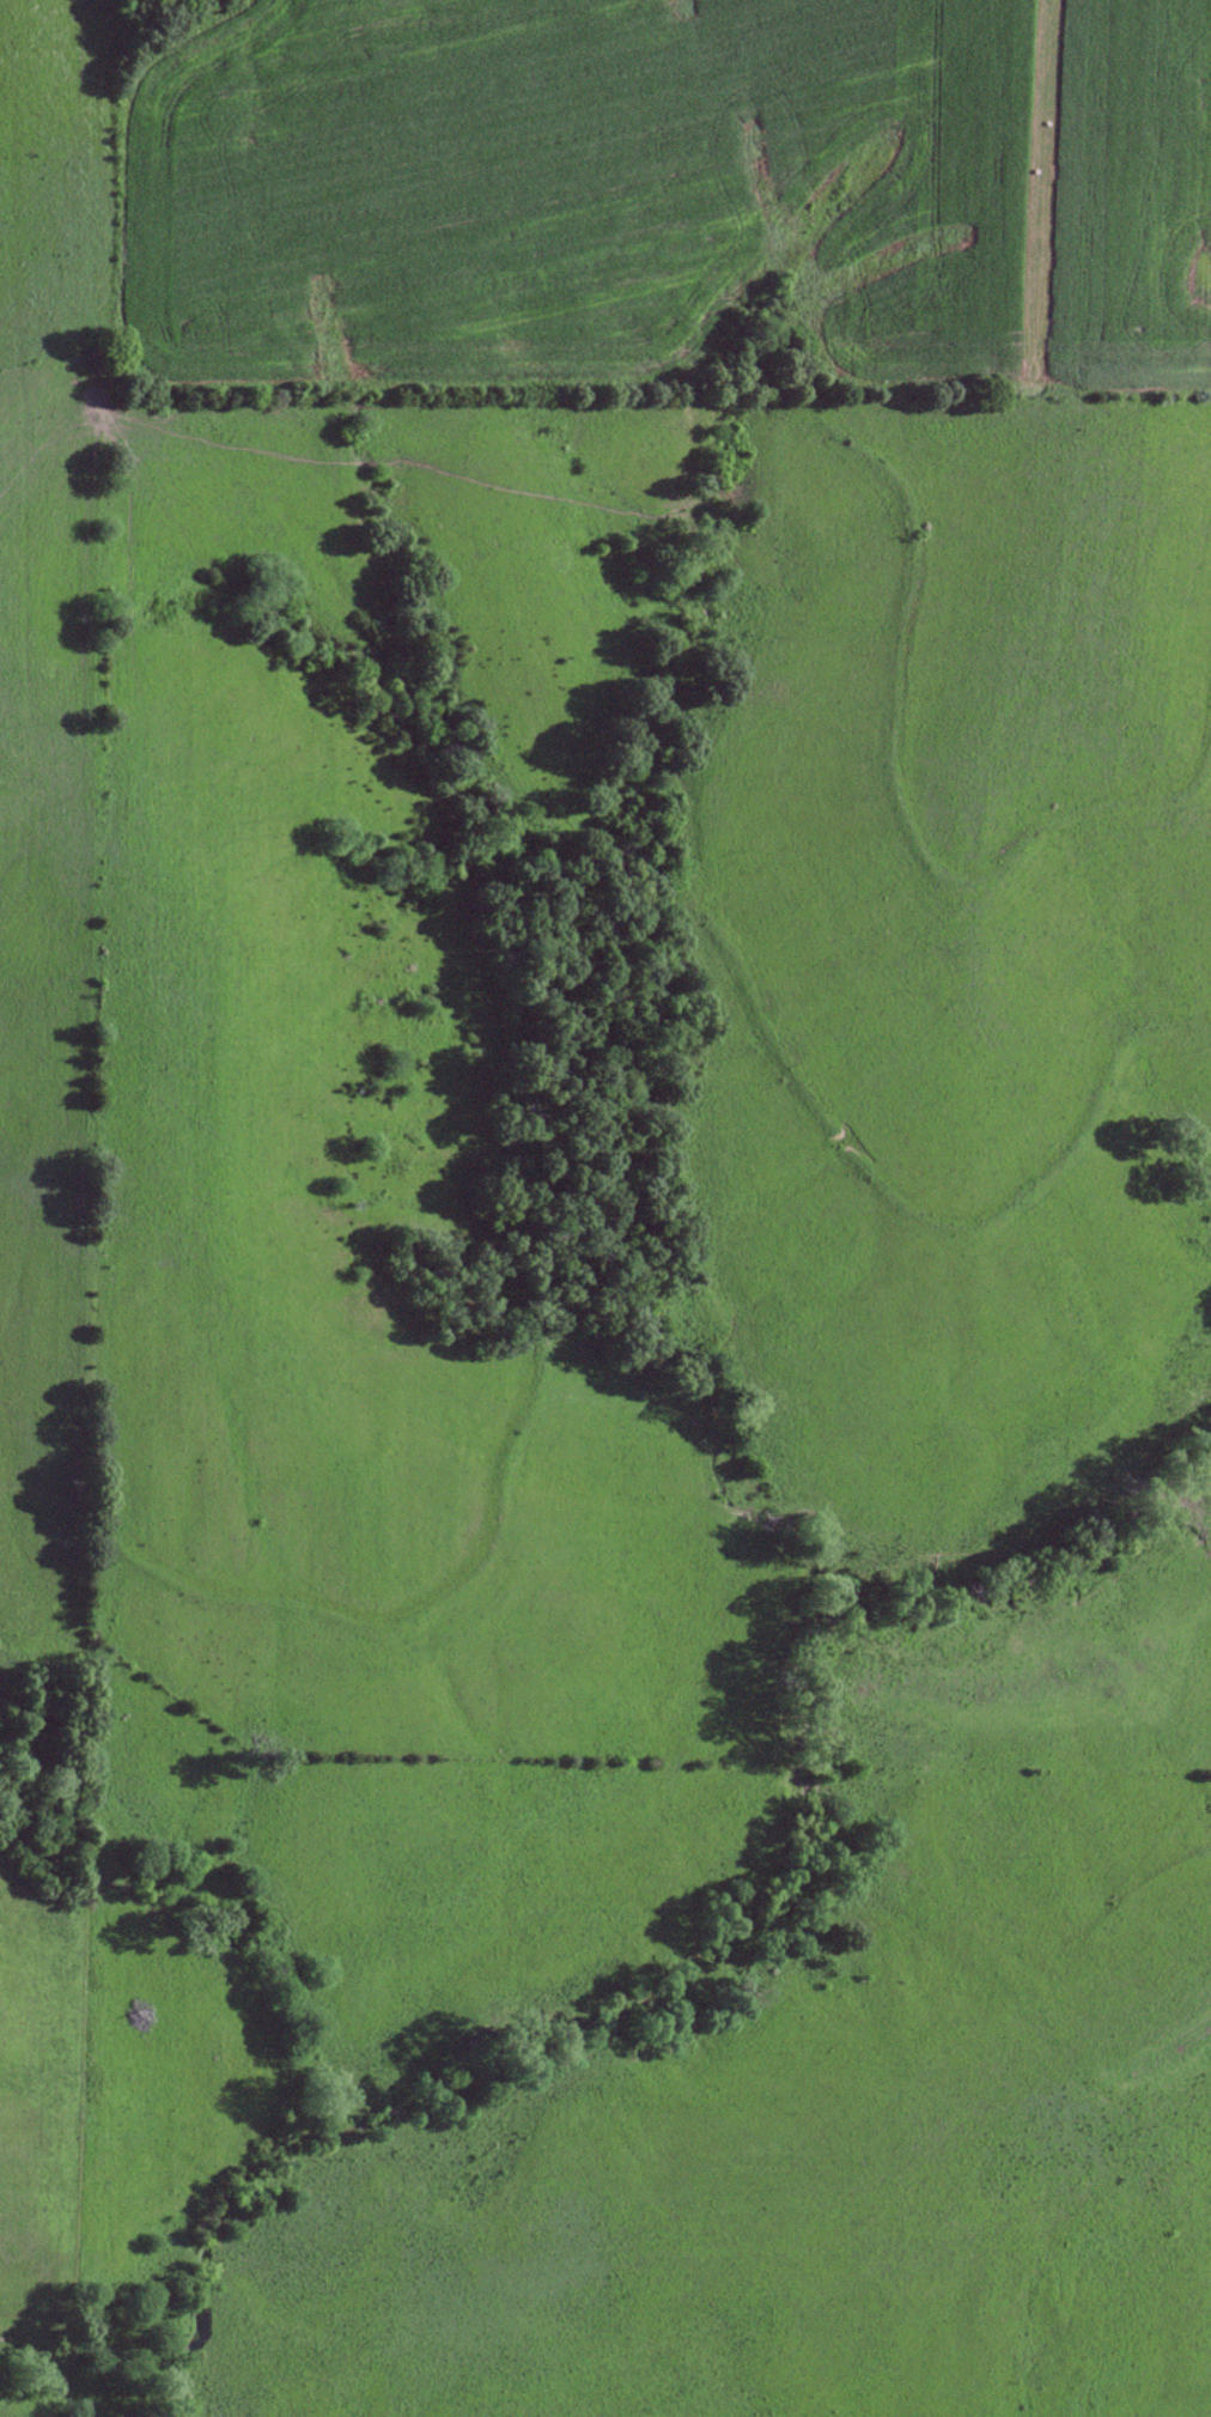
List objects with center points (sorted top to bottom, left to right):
road: (1032, 190)
road: (553, 1761)

